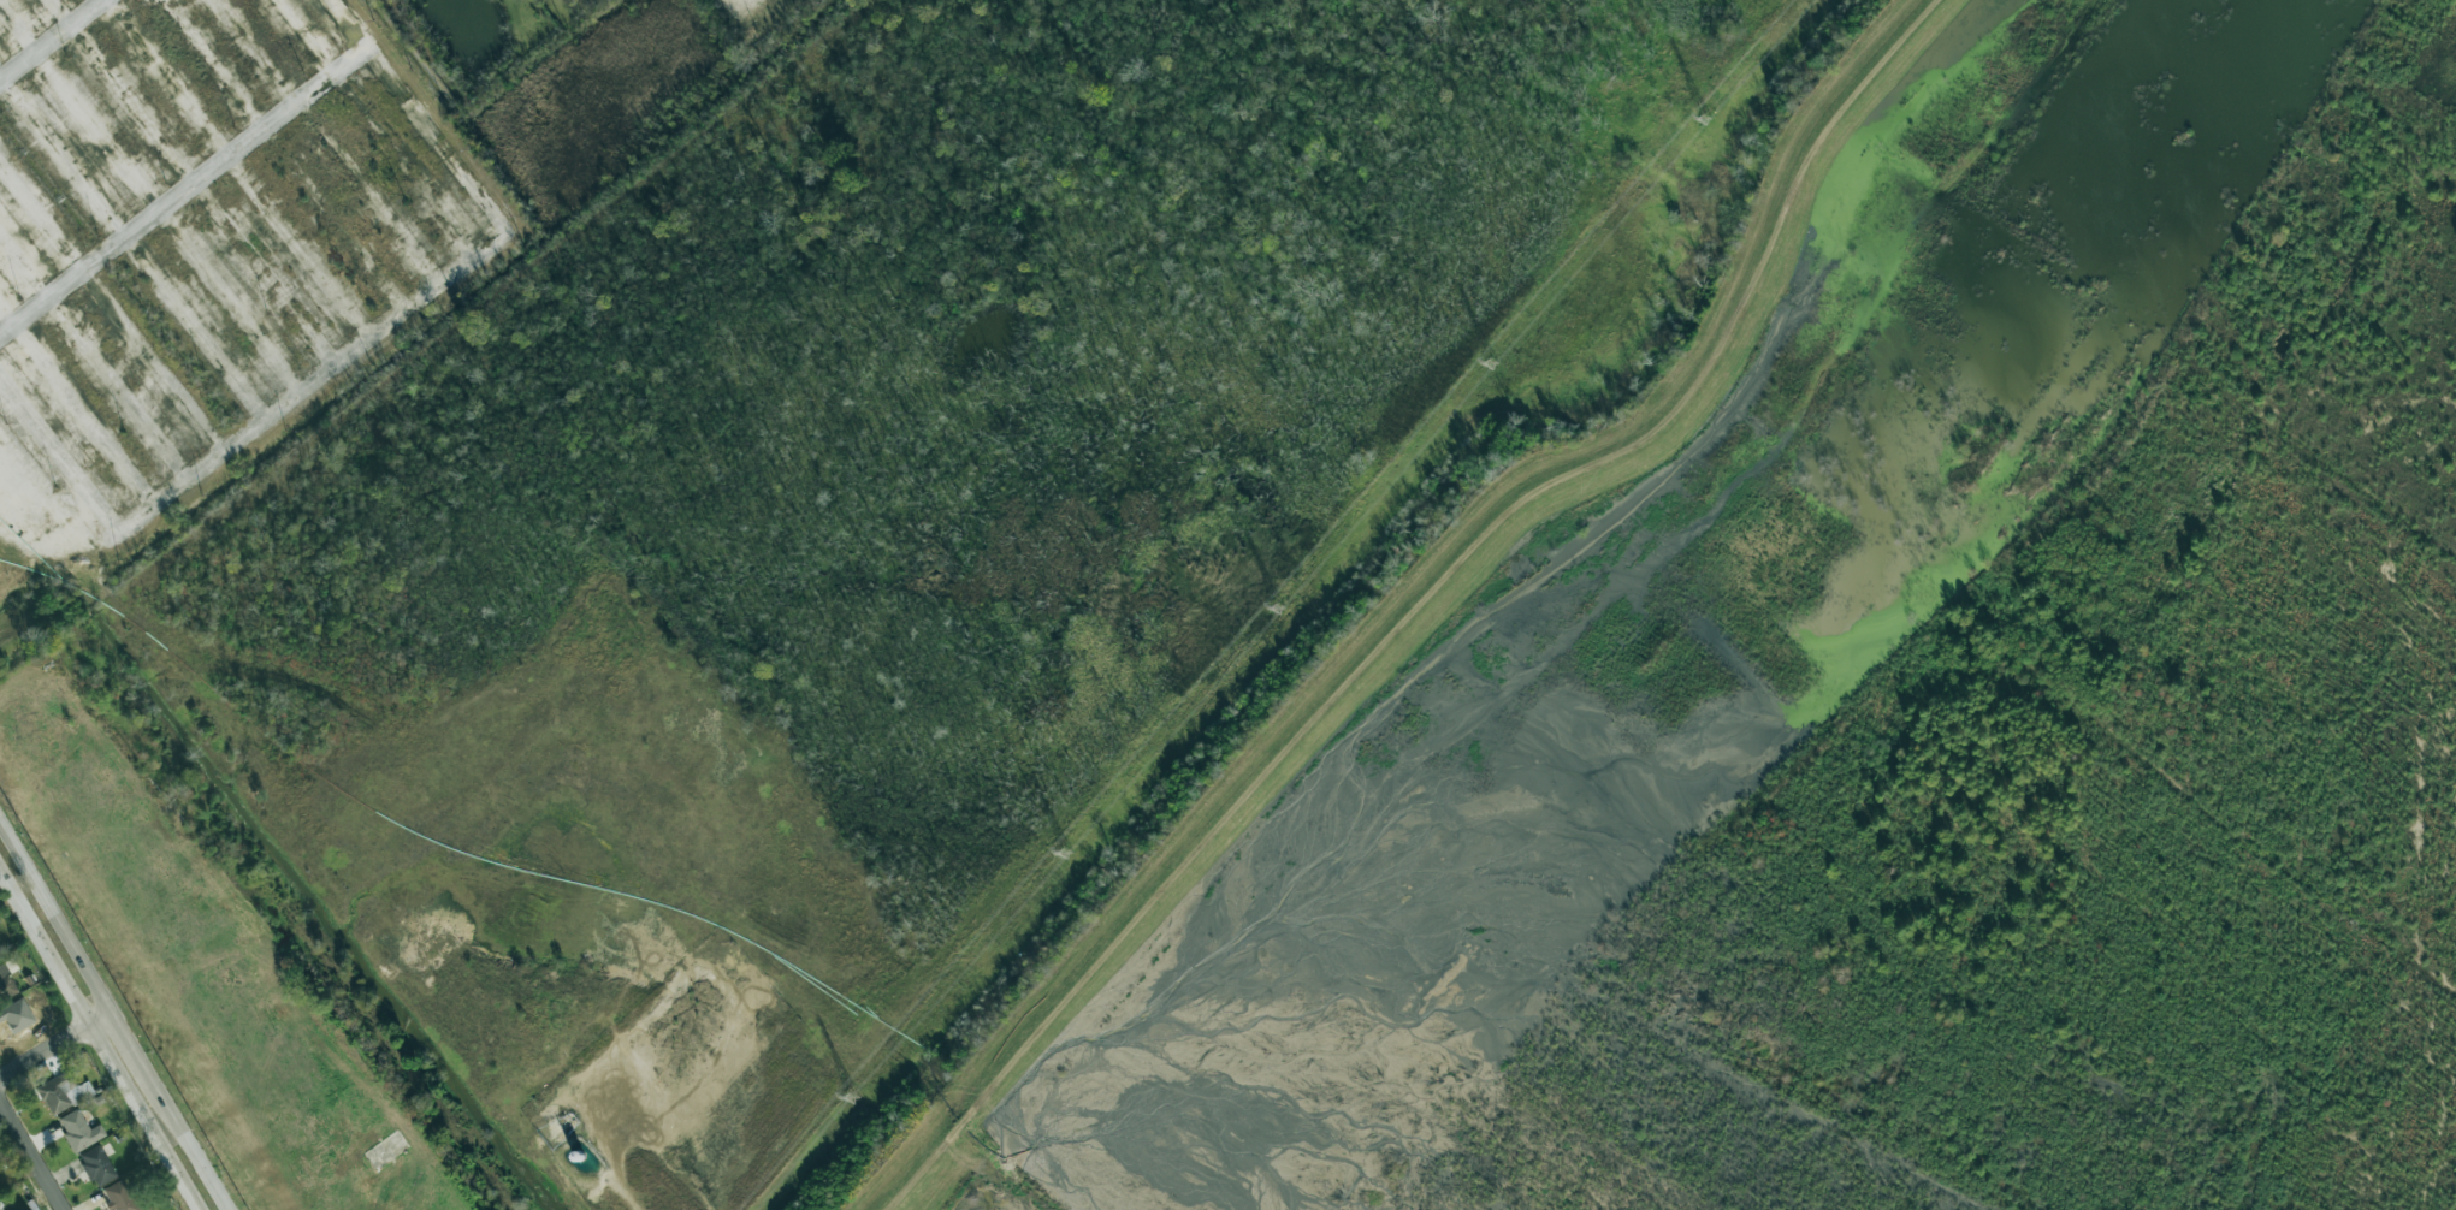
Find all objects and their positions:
road: (739, 4)
road: (55, 42)
road: (320, 88)
power tower: (1704, 119)
road: (61, 299)
power tower: (1491, 363)
road: (279, 431)
power tower: (1278, 609)
power tower: (1061, 855)
road: (54, 917)
building: (6, 978)
building: (16, 1021)
road: (96, 1042)
road: (129, 1044)
road: (54, 1045)
building: (63, 1092)
power tower: (852, 1098)
building: (78, 1131)
road: (187, 1143)
road: (31, 1155)
building: (96, 1165)
road: (598, 1169)
building: (119, 1197)

